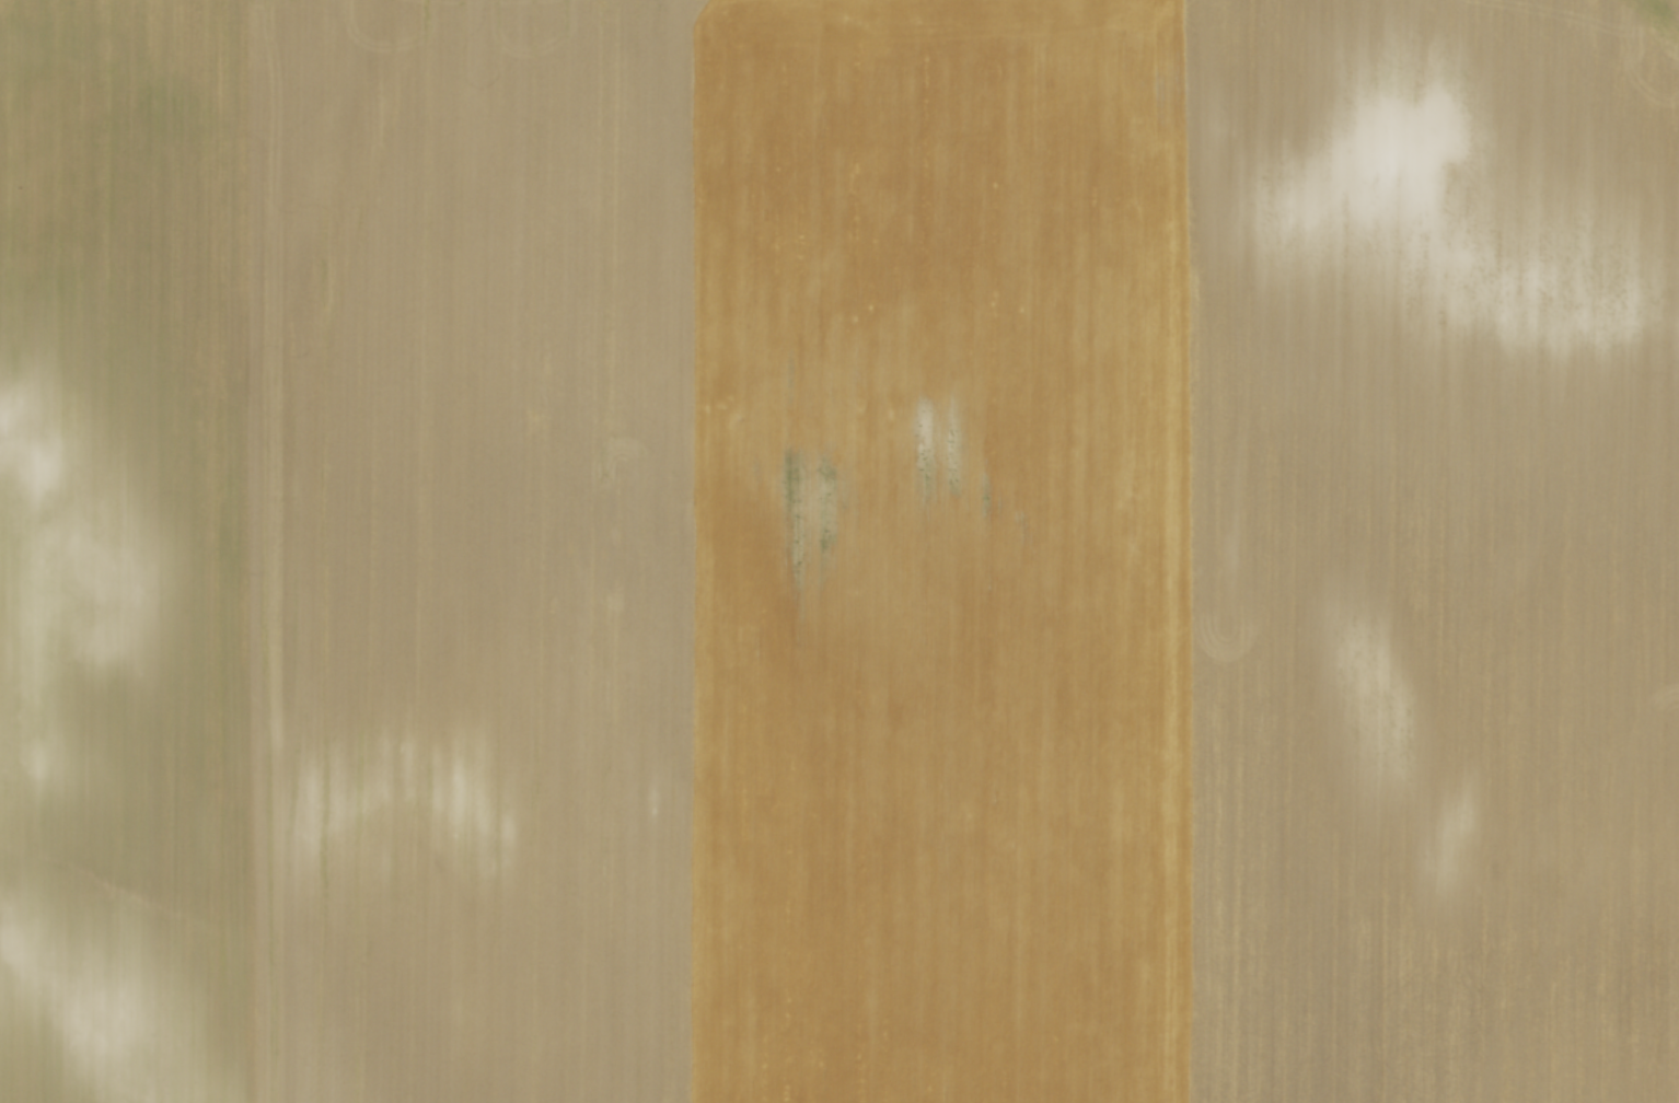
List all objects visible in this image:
crop: (839, 551)

